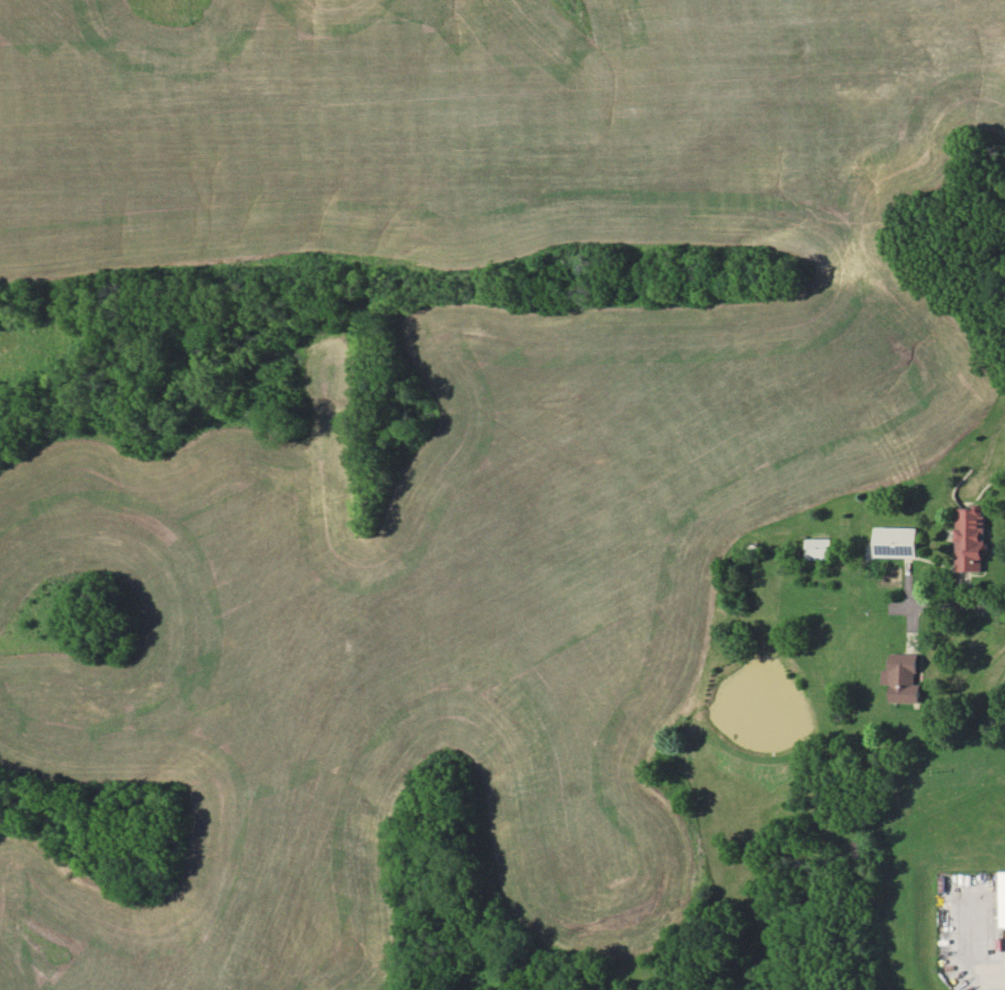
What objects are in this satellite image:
building: (970, 538)
building: (895, 541)
building: (819, 548)
road: (955, 605)
building: (904, 678)
building: (1002, 898)

